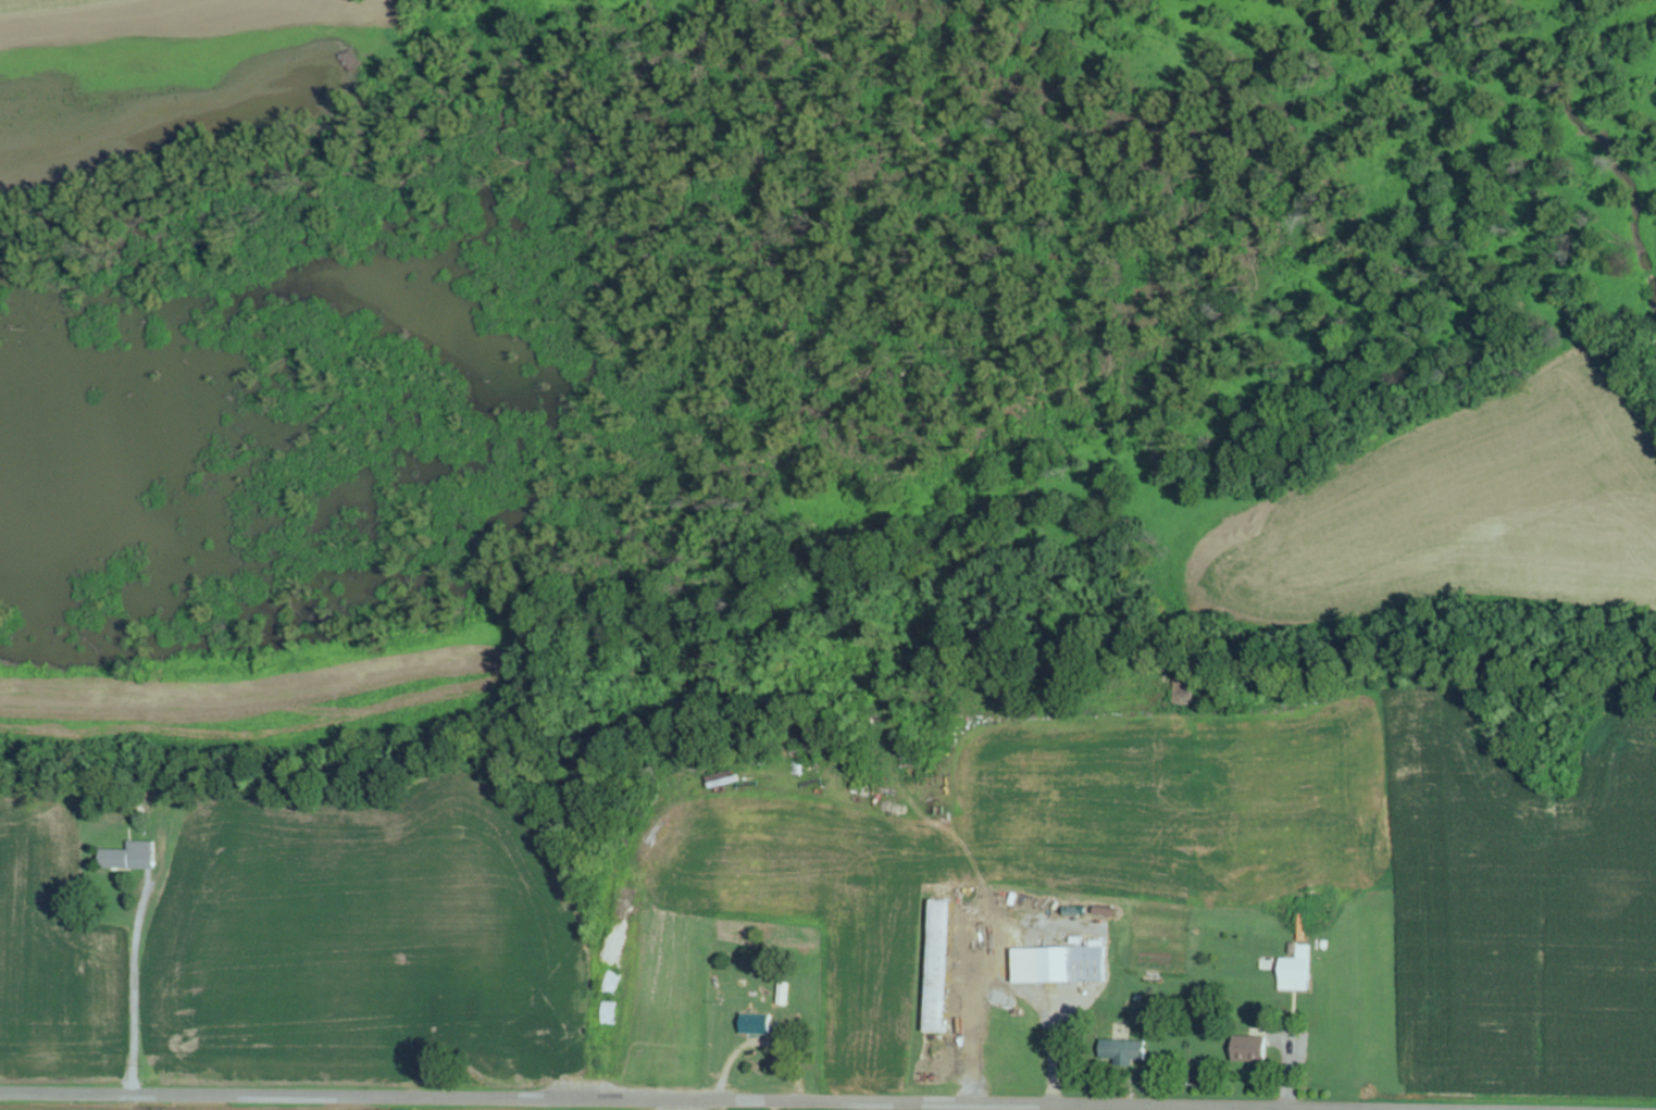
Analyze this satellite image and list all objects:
building: (1186, 691)
building: (133, 857)
building: (1061, 964)
building: (941, 966)
building: (1298, 971)
building: (758, 1024)
building: (1254, 1049)
building: (1126, 1051)
road: (1561, 1109)

